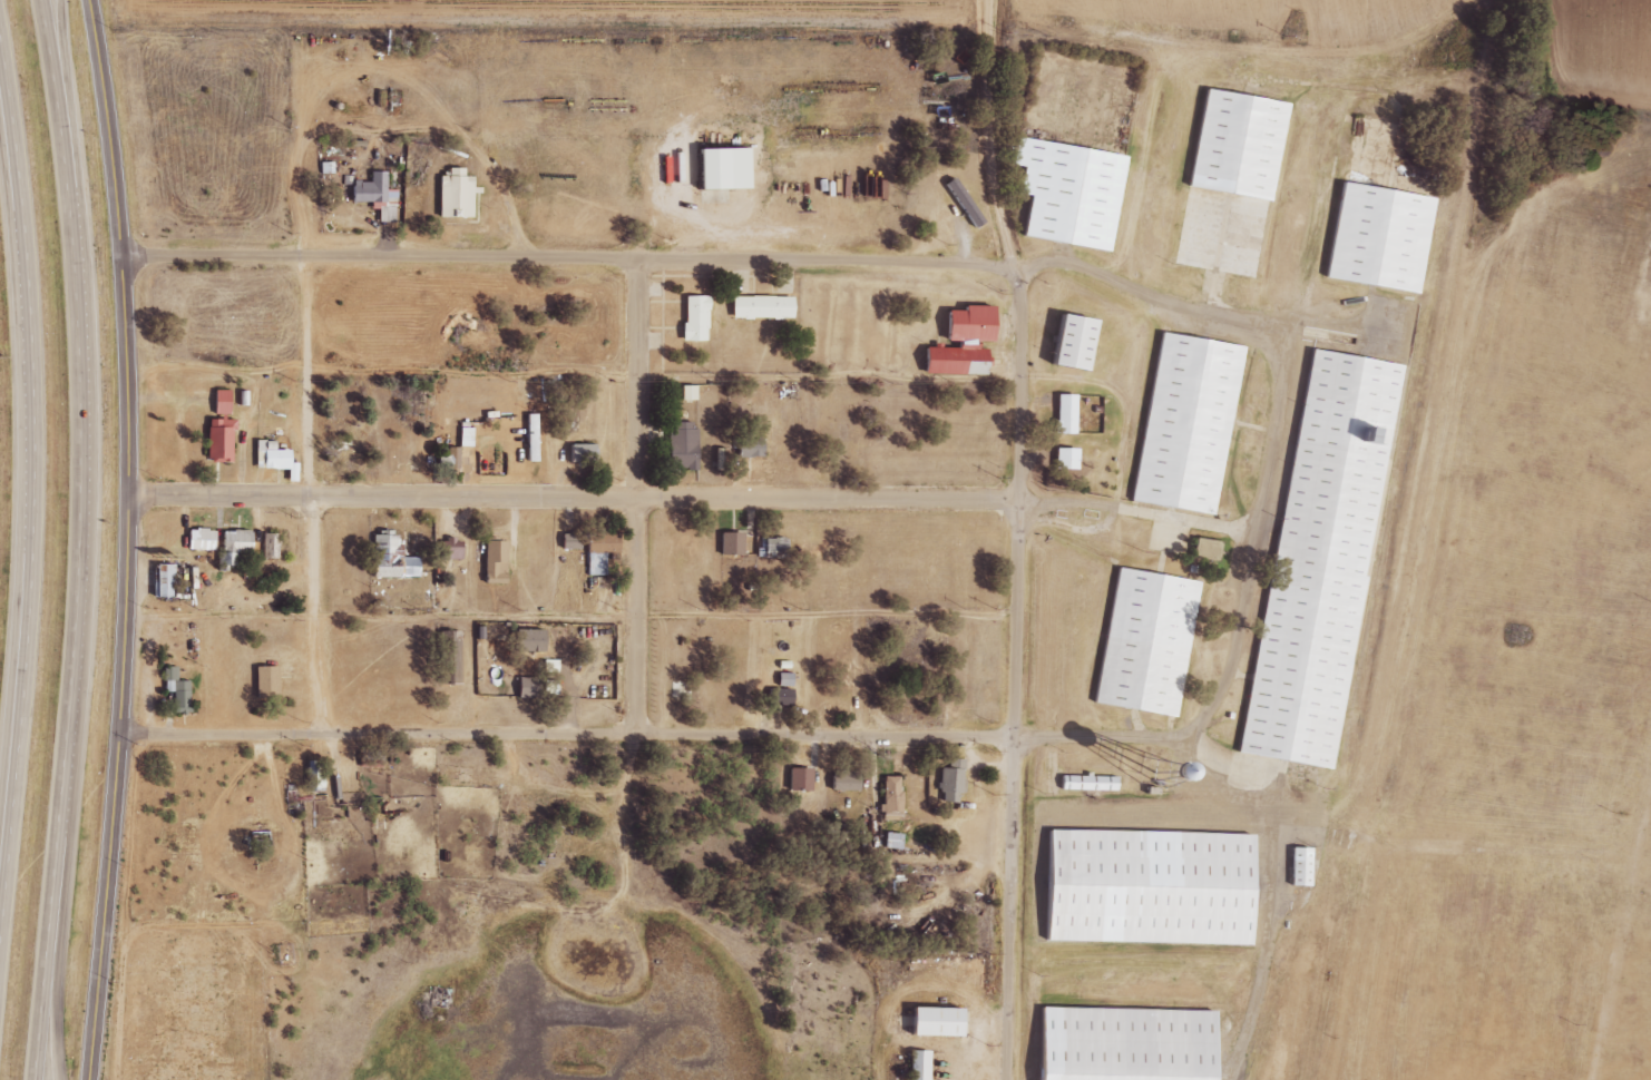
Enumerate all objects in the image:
road: (988, 14)
road: (61, 66)
road: (7, 116)
building: (1248, 146)
building: (717, 168)
building: (382, 189)
building: (467, 195)
building: (1079, 195)
building: (1389, 240)
road: (566, 256)
building: (759, 307)
building: (692, 318)
road: (1234, 318)
building: (965, 324)
building: (1083, 342)
building: (950, 360)
road: (477, 379)
building: (685, 393)
building: (254, 400)
building: (1062, 414)
building: (1196, 426)
building: (217, 431)
building: (231, 431)
building: (528, 438)
building: (678, 445)
building: (748, 448)
building: (579, 453)
building: (450, 458)
building: (272, 459)
building: (1063, 459)
building: (291, 465)
road: (31, 491)
road: (316, 492)
road: (639, 494)
road: (573, 497)
road: (1134, 510)
road: (78, 539)
road: (128, 539)
railway: (1390, 539)
building: (197, 540)
building: (567, 541)
building: (729, 543)
building: (267, 546)
building: (772, 547)
building: (229, 548)
building: (449, 549)
building: (1203, 549)
building: (596, 551)
road: (1016, 553)
building: (388, 559)
building: (1330, 560)
building: (491, 562)
building: (162, 580)
road: (570, 619)
road: (1237, 627)
building: (526, 640)
building: (1156, 644)
building: (446, 657)
building: (263, 681)
building: (525, 687)
building: (174, 690)
building: (778, 696)
road: (565, 732)
road: (1105, 738)
building: (797, 779)
building: (948, 779)
building: (841, 780)
building: (1100, 788)
building: (889, 798)
road: (6, 840)
building: (890, 841)
building: (1297, 867)
building: (1311, 868)
building: (1160, 890)
road: (61, 970)
building: (947, 1024)
building: (1136, 1044)
building: (916, 1064)
building: (930, 1067)

